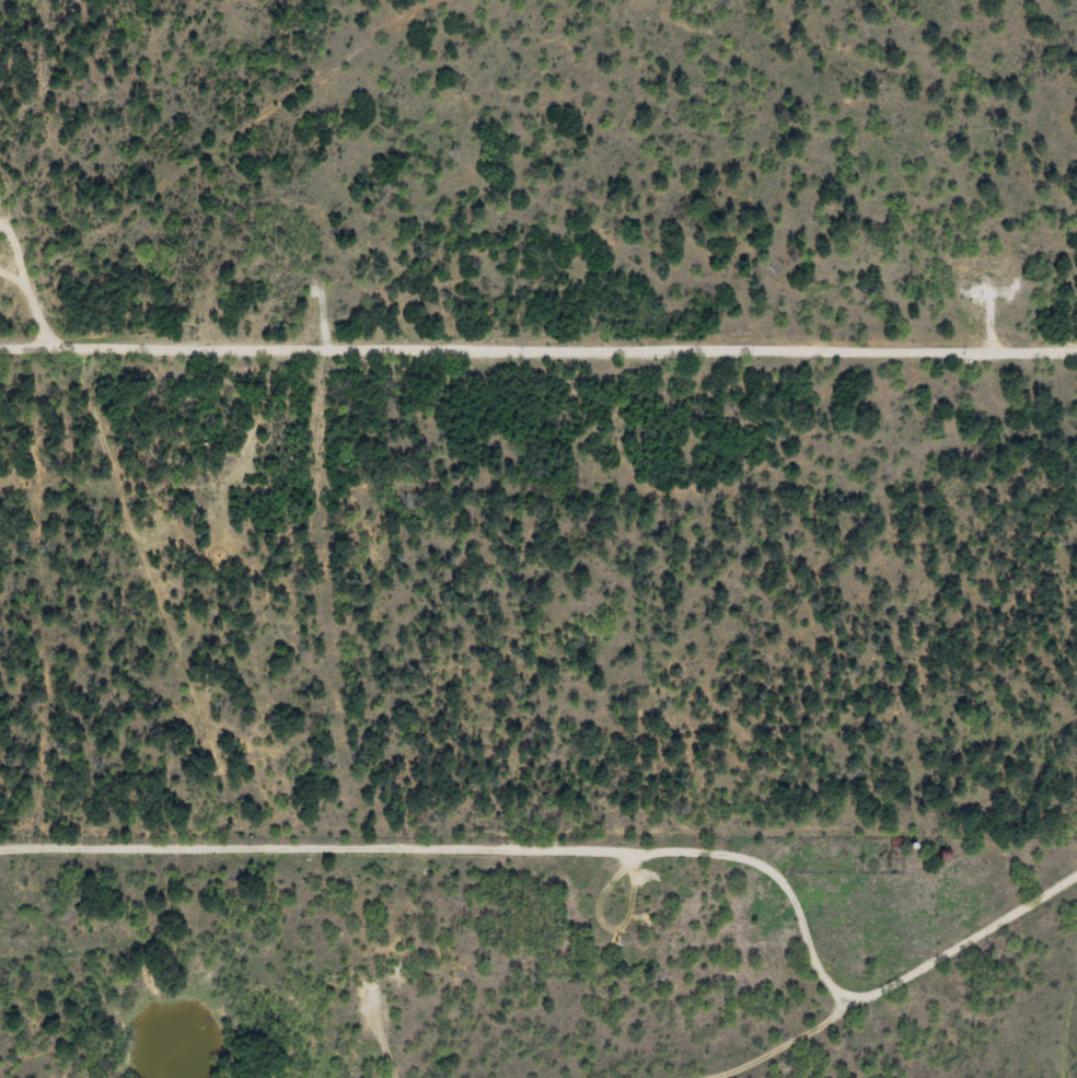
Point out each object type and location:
road: (538, 356)
road: (870, 1020)
road: (1062, 1034)

